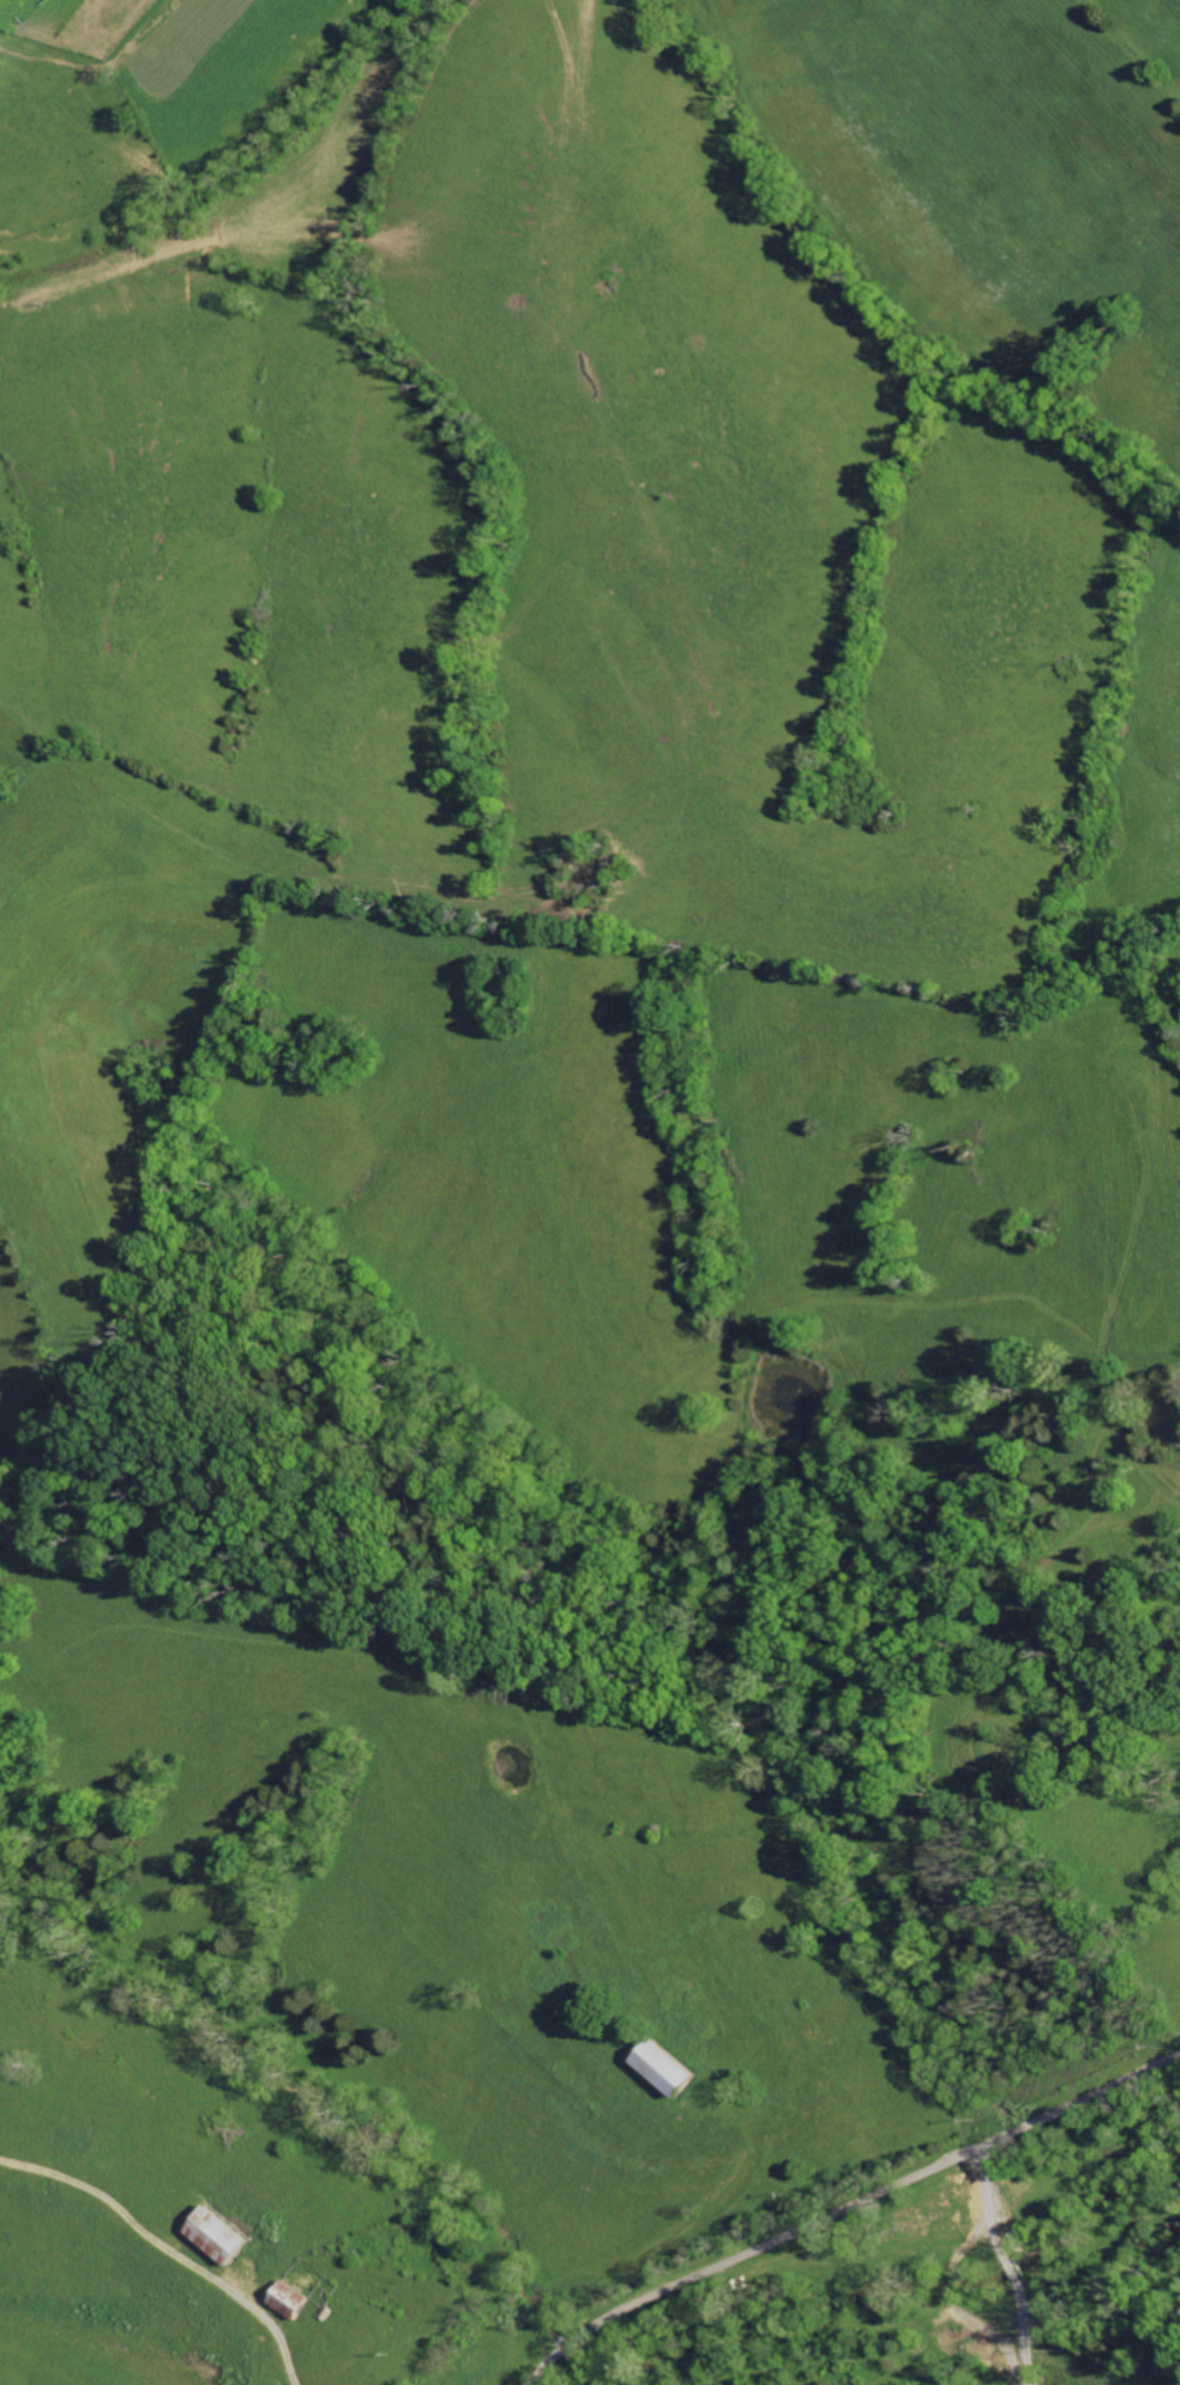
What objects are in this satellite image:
building: (674, 2070)
road: (845, 2206)
building: (230, 2238)
road: (168, 2247)

